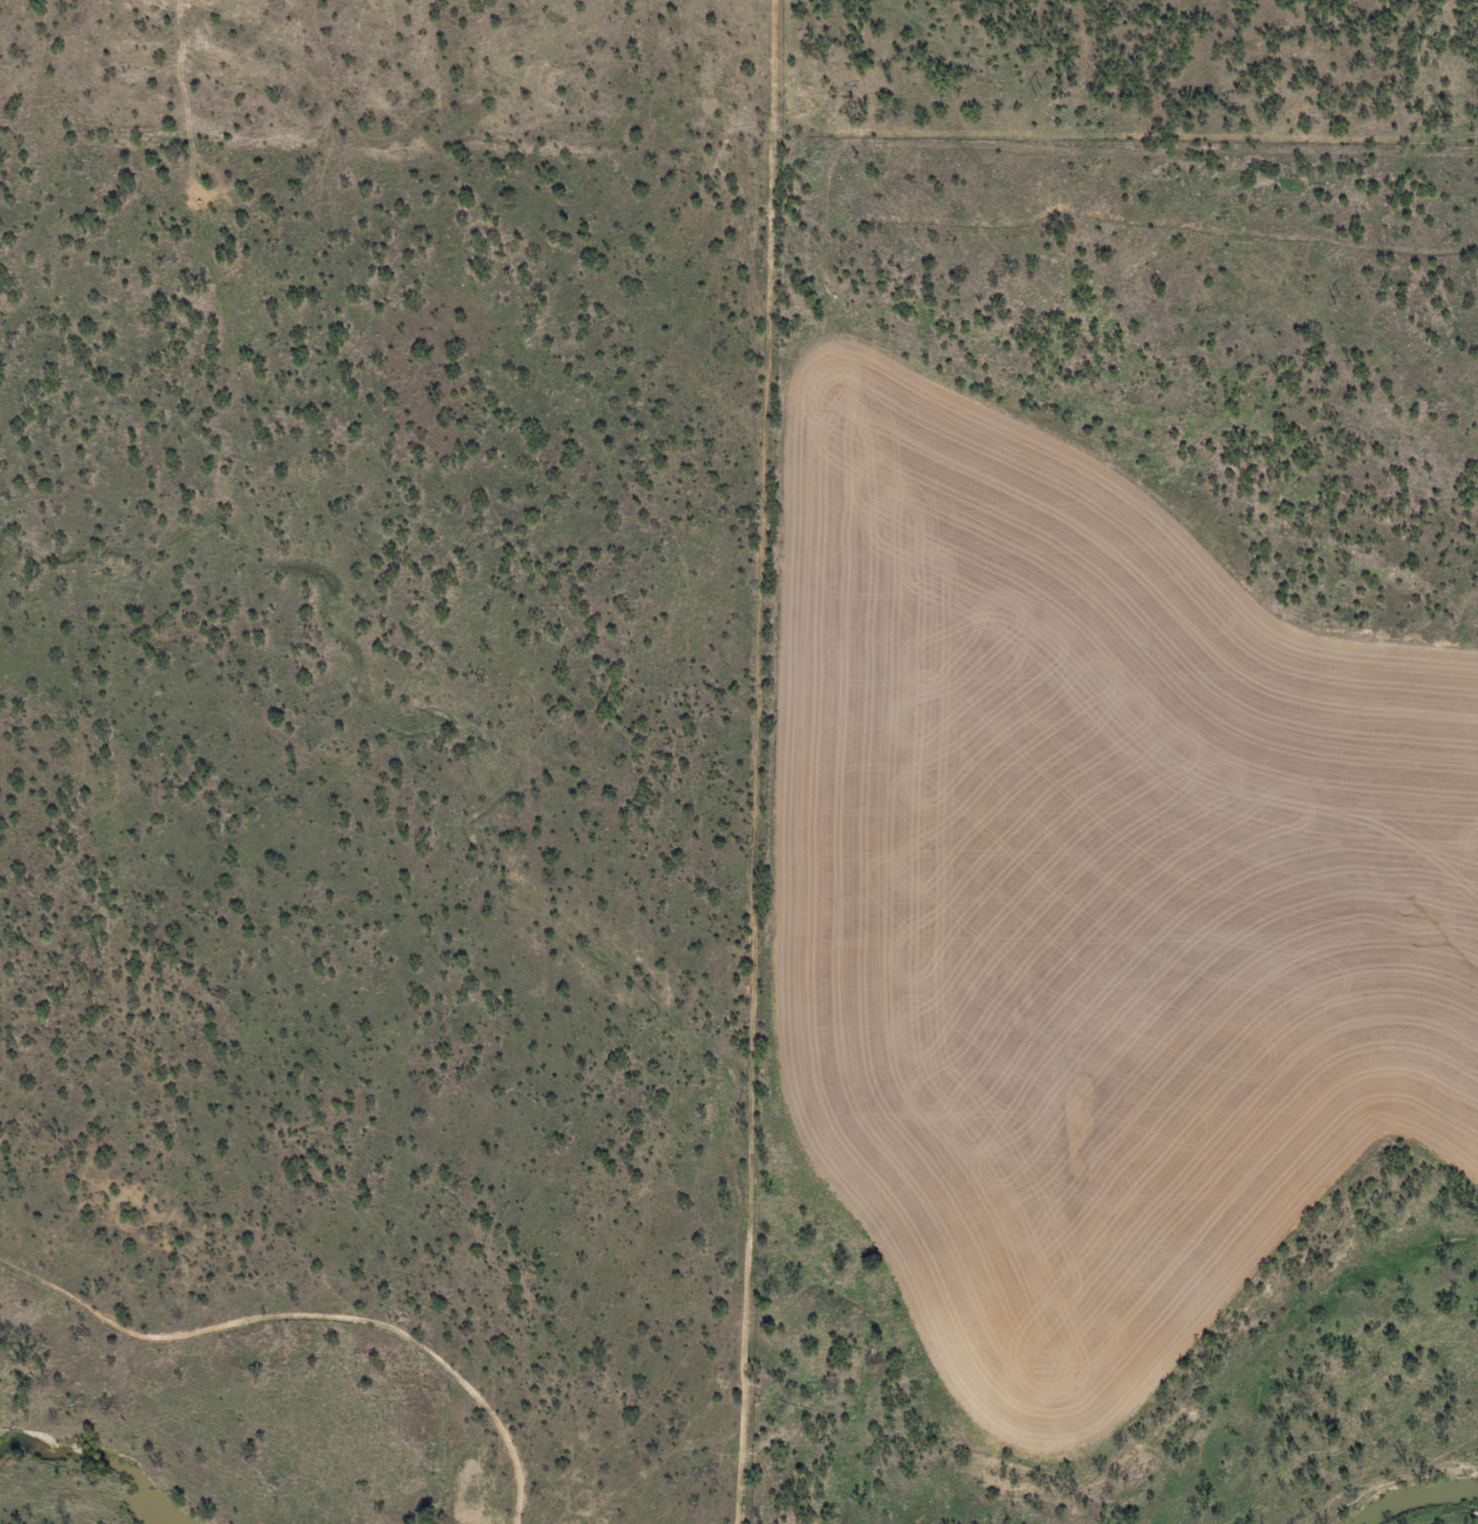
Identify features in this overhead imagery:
power tower: (1036, 93)
power tower: (1337, 304)
road: (706, 762)
road: (305, 1340)

